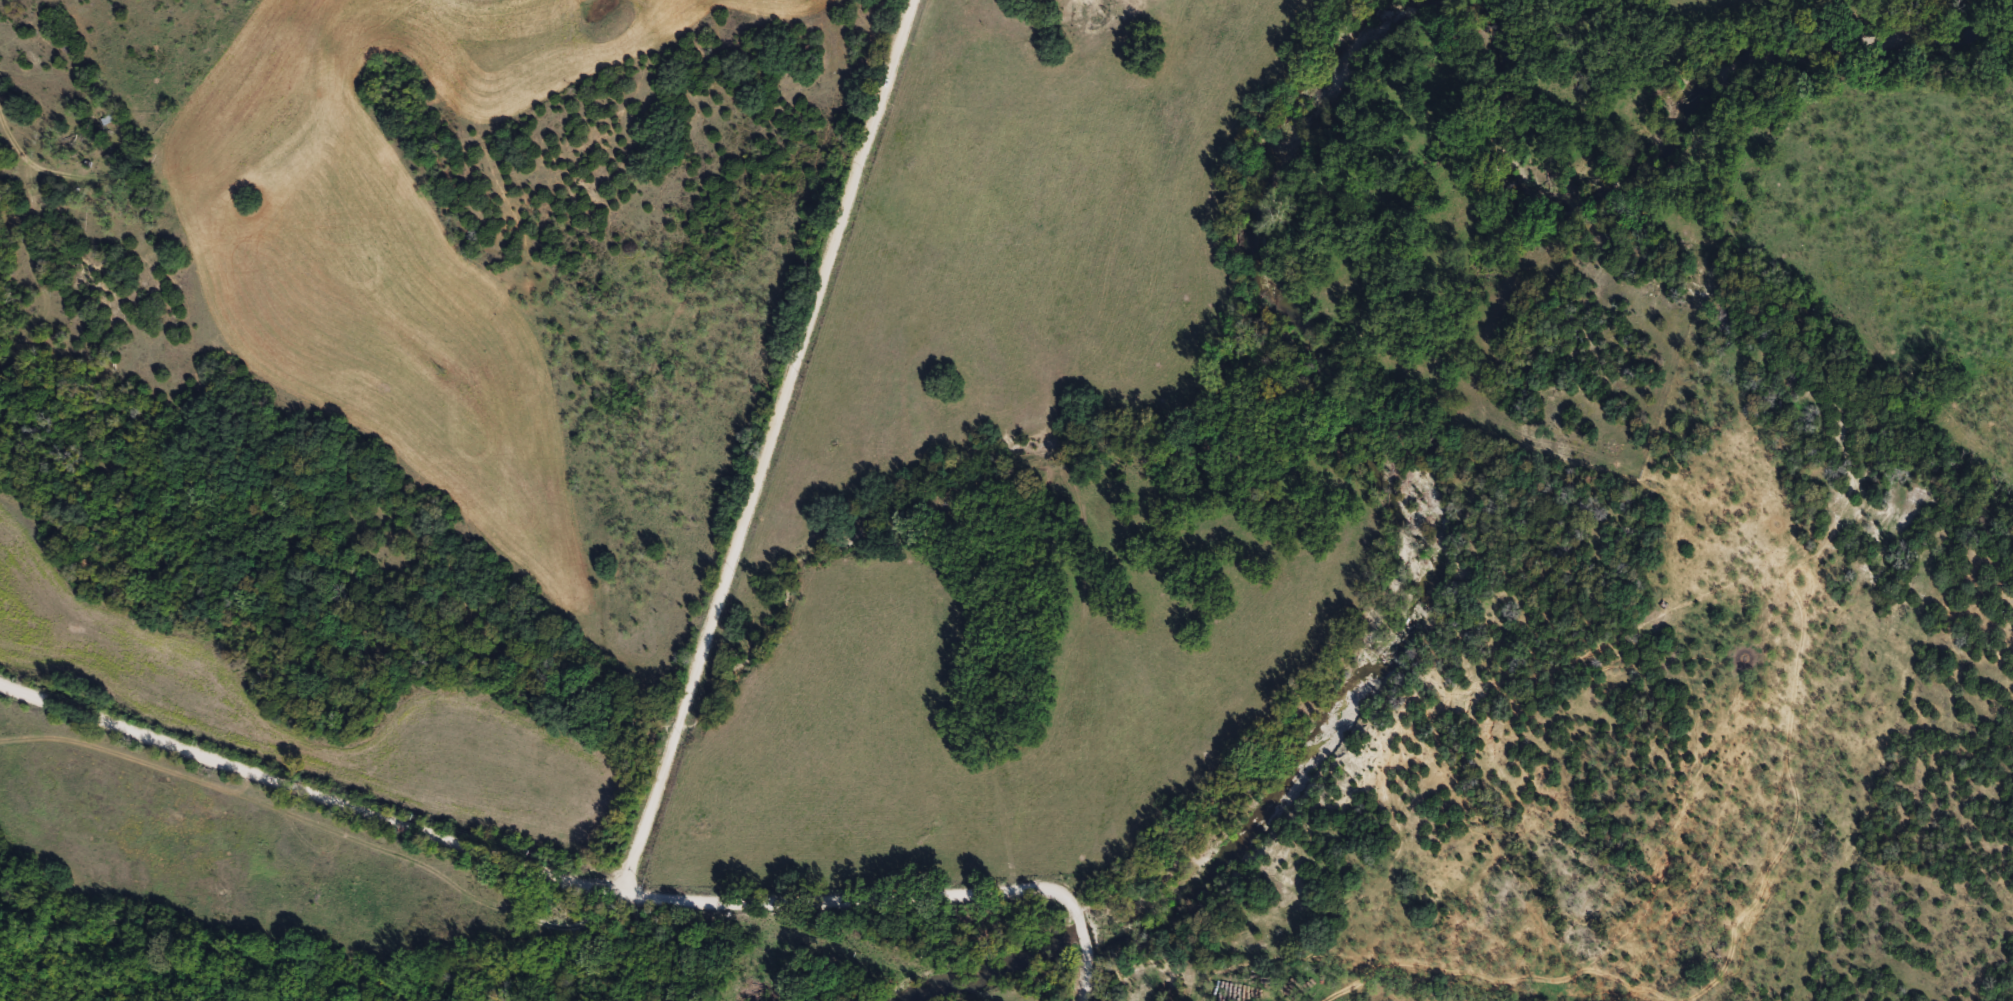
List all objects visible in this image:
road: (766, 449)
road: (527, 873)
road: (1072, 936)
road: (1077, 978)

